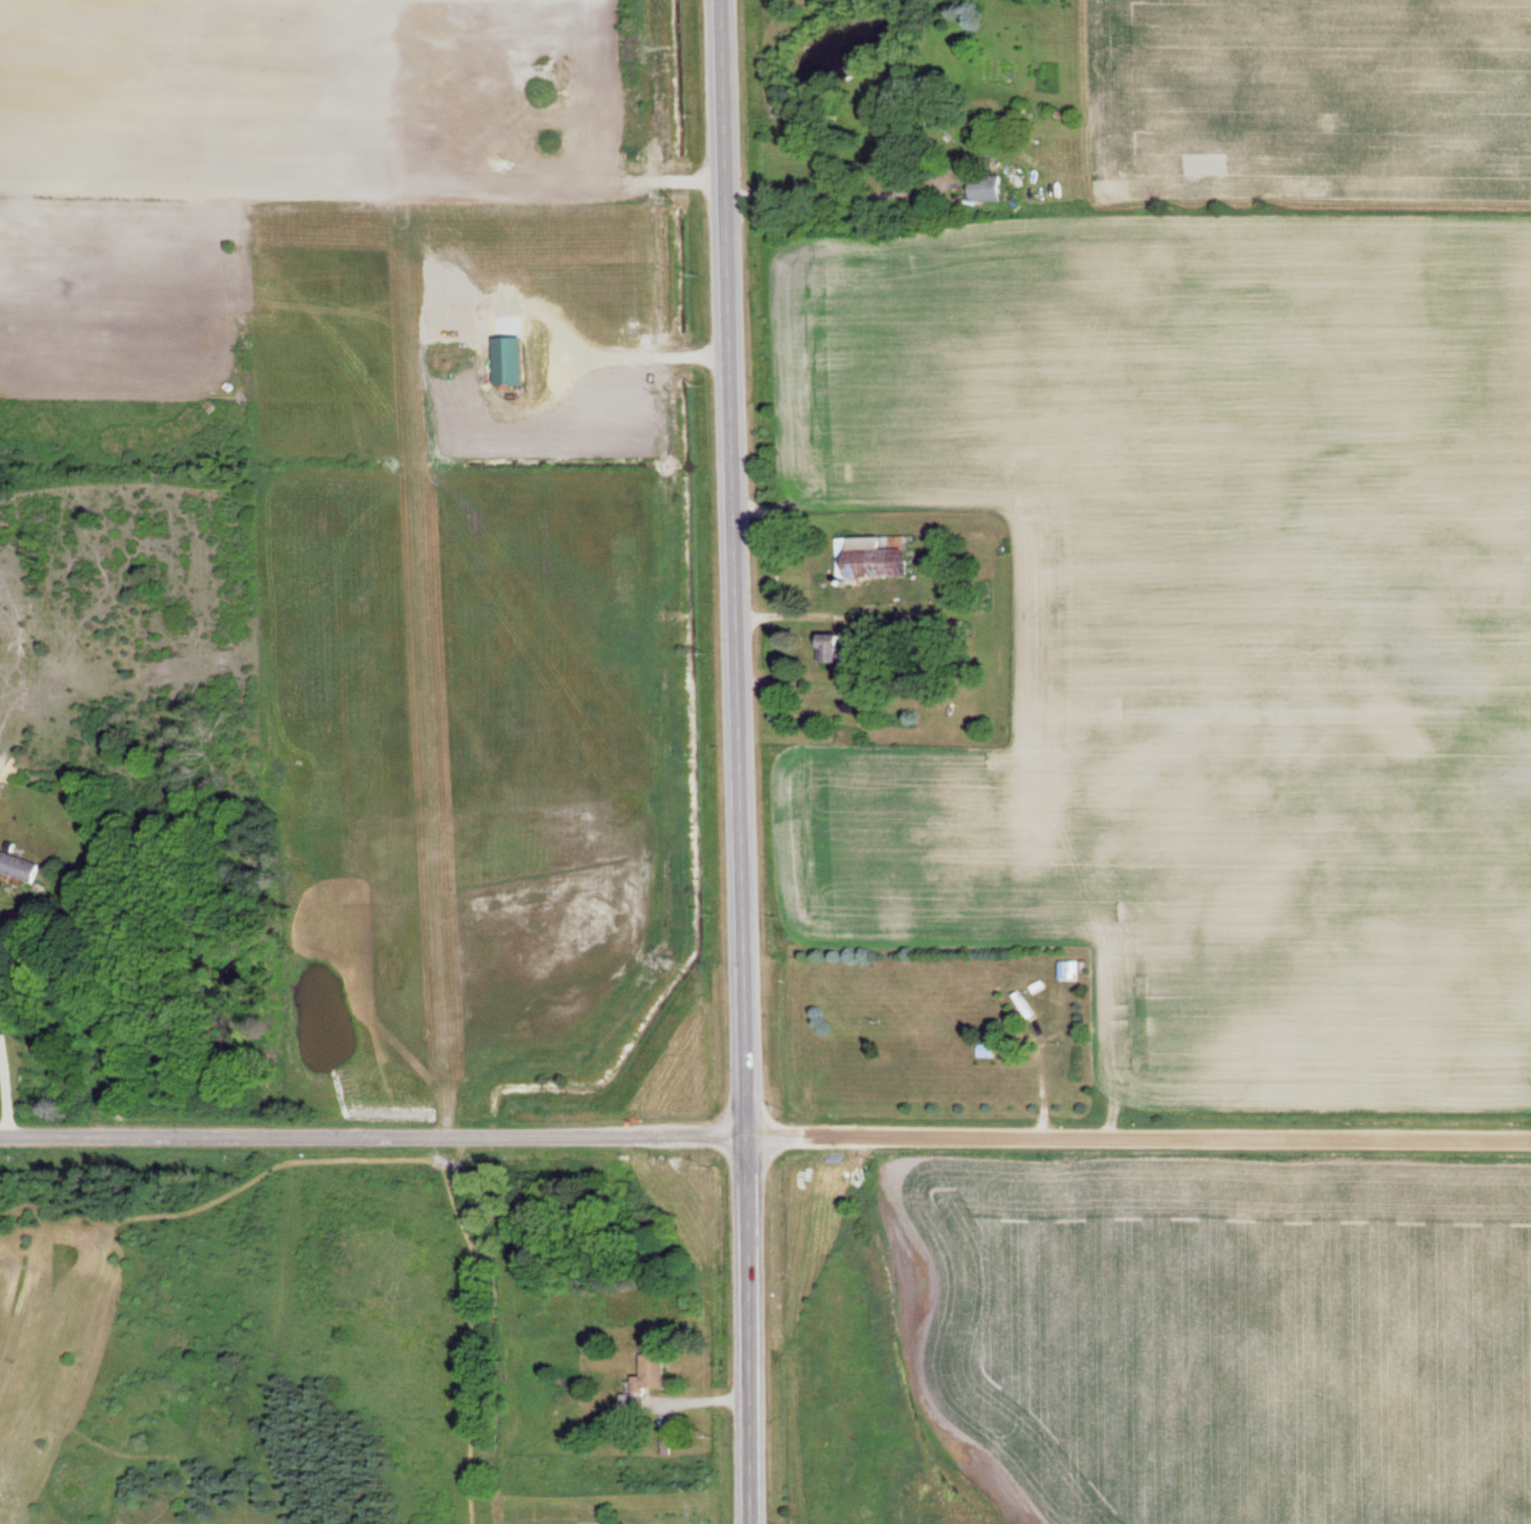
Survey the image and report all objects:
building: (900, 141)
building: (988, 188)
building: (514, 361)
building: (876, 557)
building: (837, 648)
road: (738, 761)
building: (22, 865)
road: (374, 1134)
road: (1139, 1136)
building: (648, 1382)

